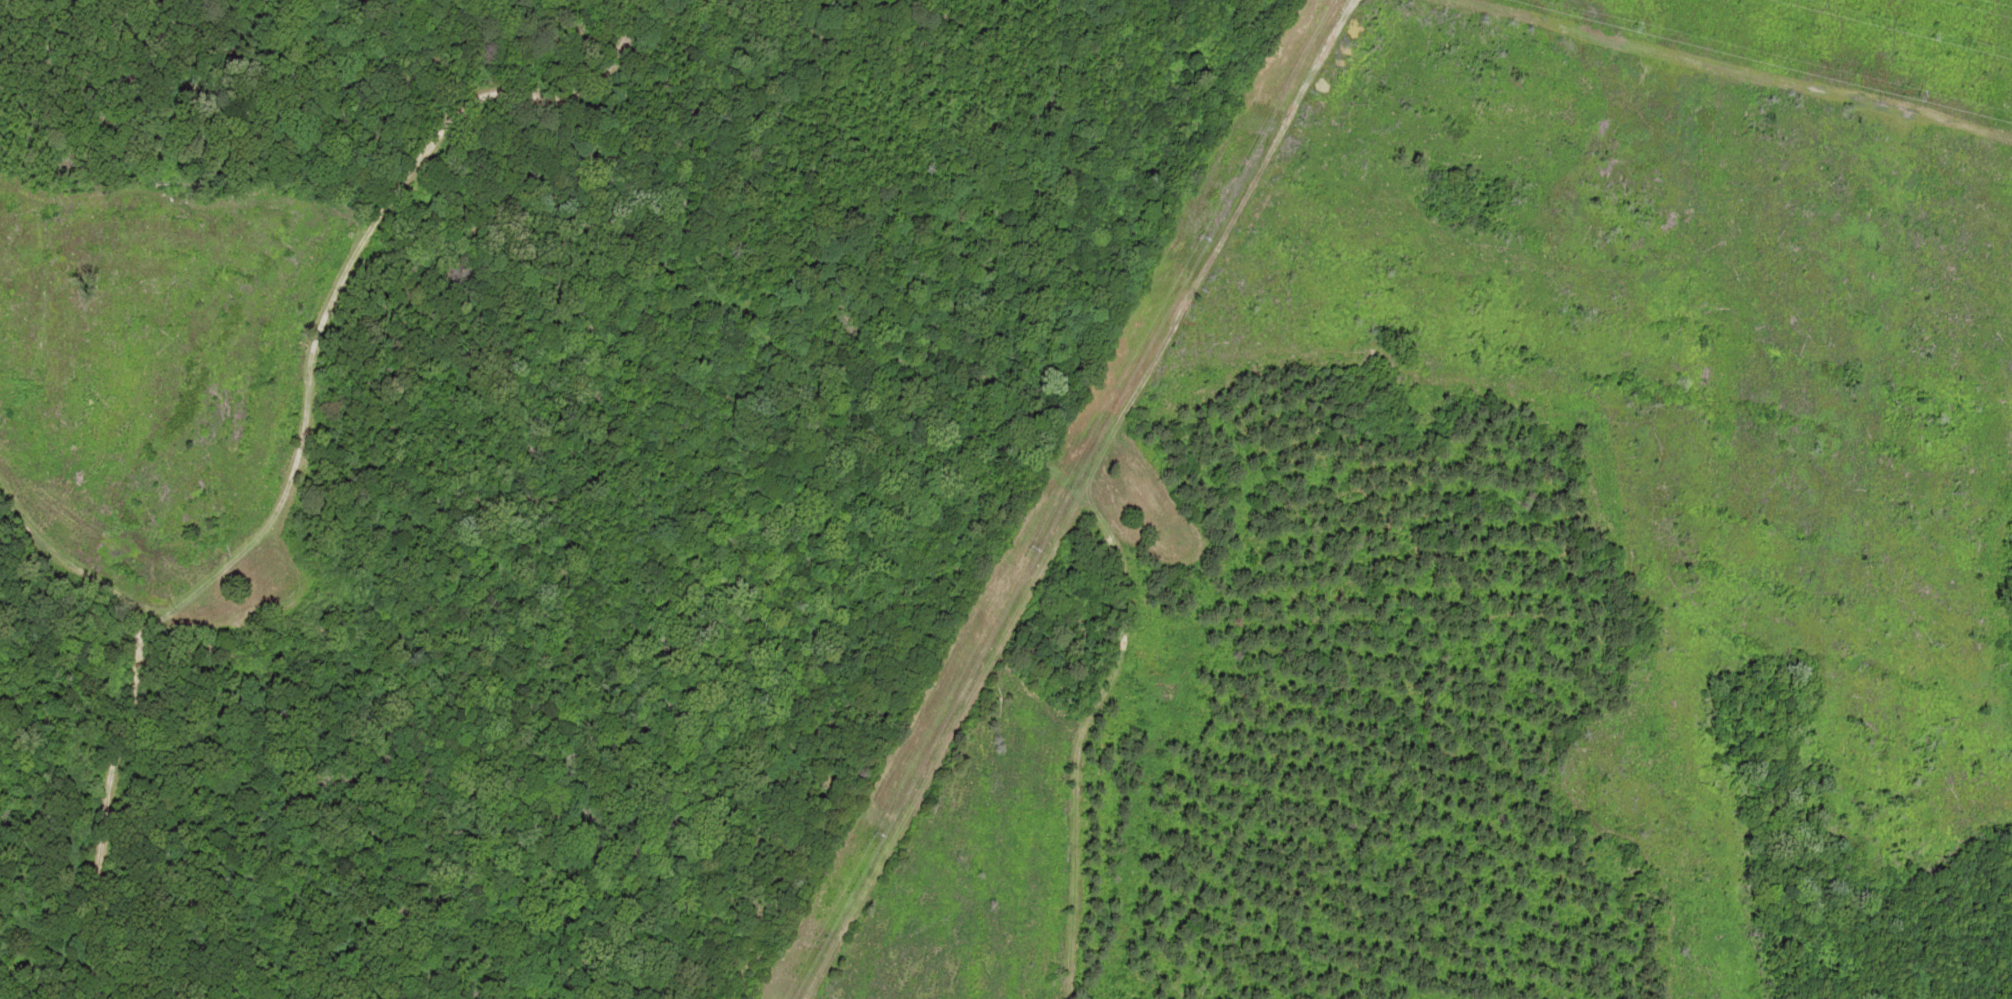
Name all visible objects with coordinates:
road: (37, 722)

